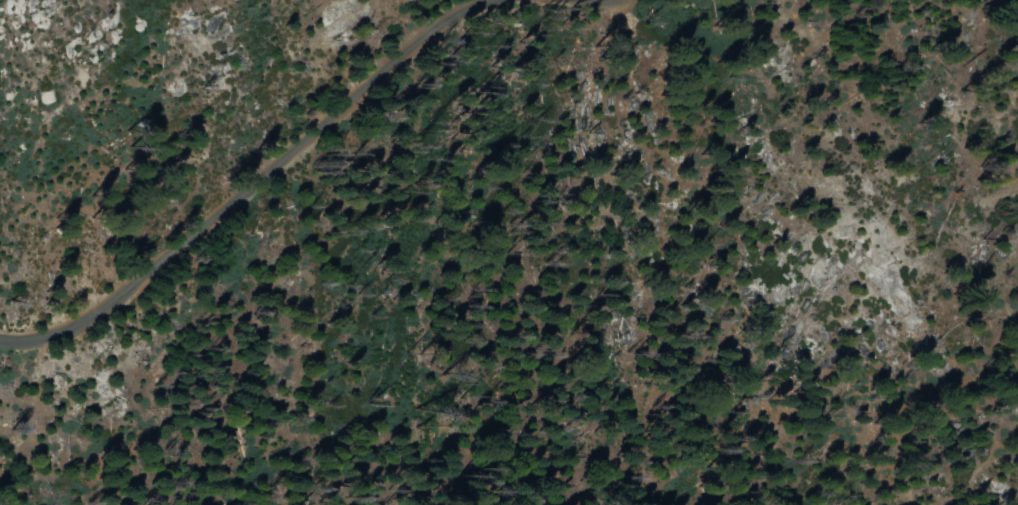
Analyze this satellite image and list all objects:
road: (249, 184)

